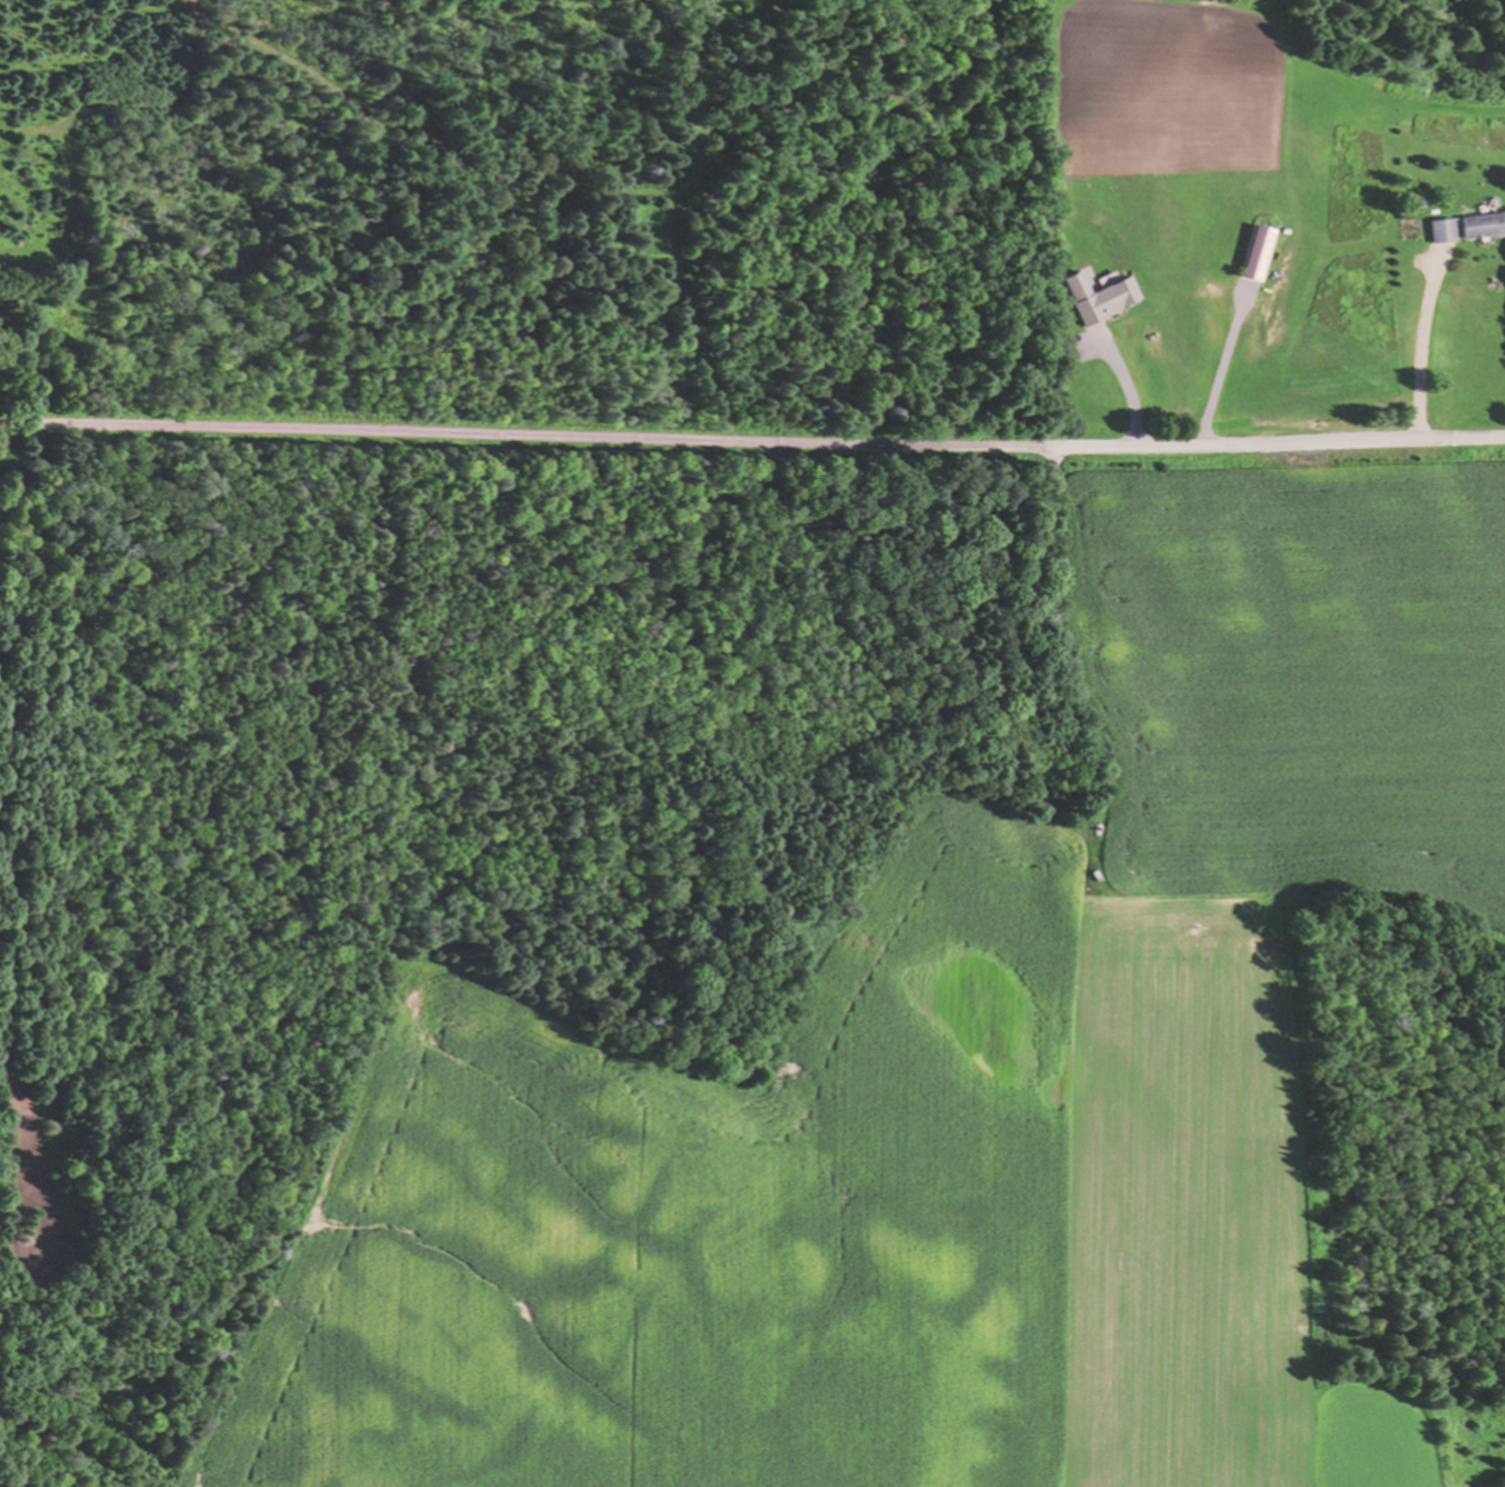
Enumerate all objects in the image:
building: (1465, 228)
building: (1261, 254)
building: (1104, 300)
road: (1420, 356)
road: (1221, 374)
road: (1130, 397)
road: (3, 424)
road: (755, 441)

